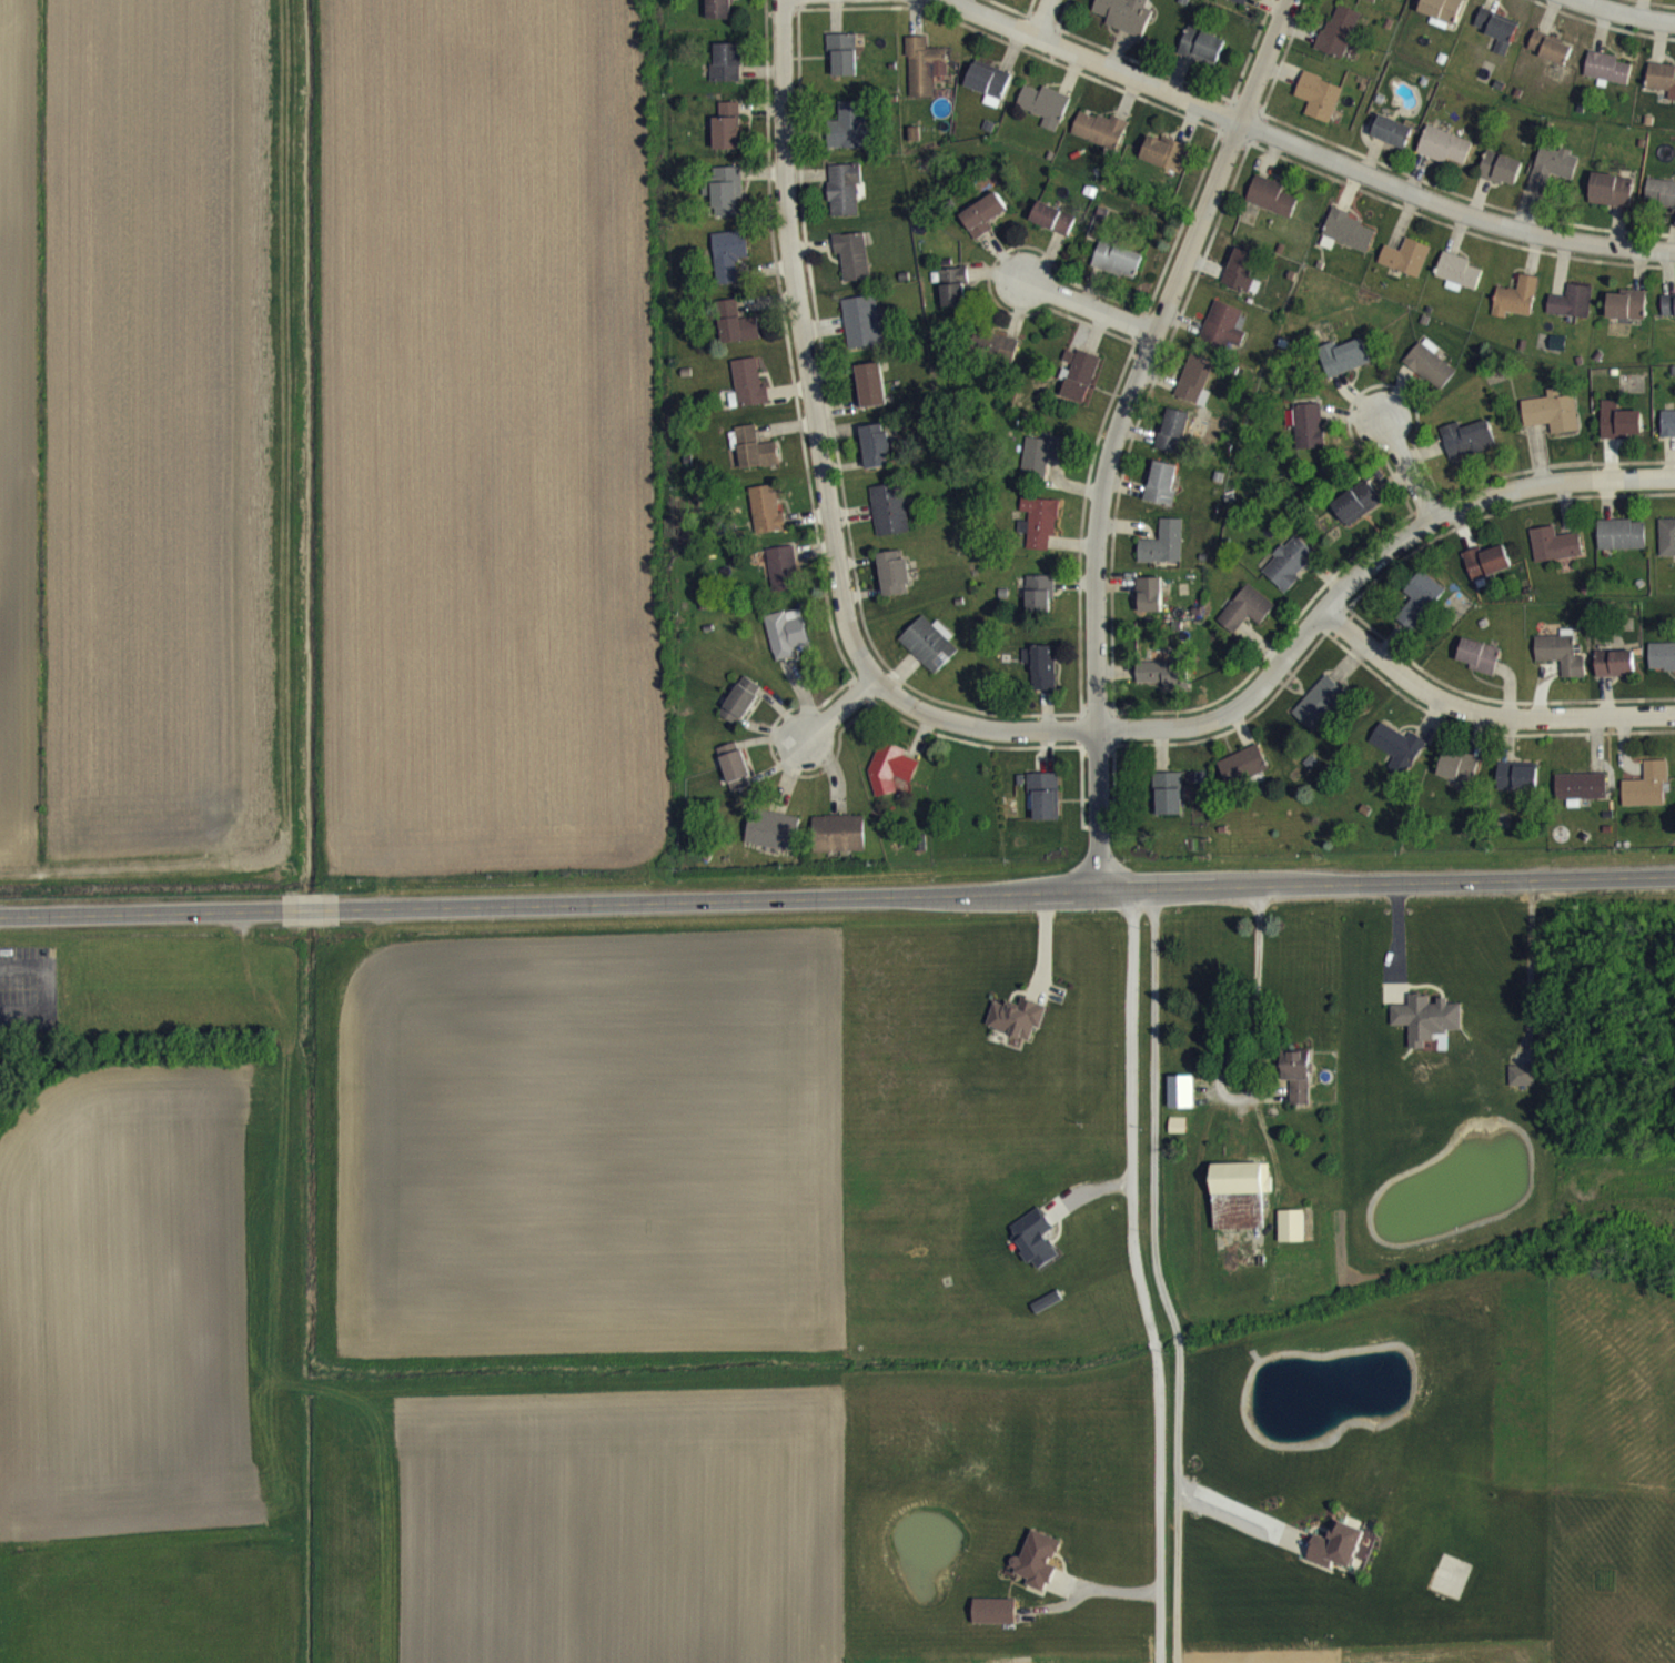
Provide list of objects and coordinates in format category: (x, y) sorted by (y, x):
building: (1233, 4)
building: (1371, 4)
road: (1625, 13)
building: (722, 14)
road: (1041, 18)
building: (1440, 19)
building: (1124, 23)
building: (1496, 37)
building: (1339, 42)
building: (1202, 57)
building: (1550, 59)
building: (844, 65)
building: (728, 74)
building: (925, 79)
building: (1606, 80)
building: (1662, 90)
building: (990, 93)
building: (1319, 108)
building: (1046, 117)
building: (728, 138)
building: (850, 138)
building: (1100, 141)
building: (1392, 143)
road: (1305, 147)
building: (1444, 158)
building: (1164, 164)
building: (1553, 179)
building: (1502, 180)
building: (845, 200)
building: (727, 202)
building: (1611, 202)
building: (1659, 204)
building: (1271, 208)
building: (985, 226)
building: (1053, 230)
building: (1350, 242)
building: (729, 266)
building: (854, 266)
building: (1406, 269)
building: (1117, 271)
building: (1241, 283)
building: (1457, 284)
building: (955, 299)
road: (1090, 306)
building: (1516, 310)
building: (1572, 313)
building: (1626, 316)
building: (1668, 318)
building: (864, 333)
building: (737, 334)
building: (1222, 337)
road: (803, 343)
building: (997, 359)
building: (1343, 369)
building: (1430, 375)
building: (1081, 387)
building: (1194, 392)
building: (749, 394)
building: (872, 396)
building: (1552, 423)
road: (1117, 429)
building: (1619, 433)
building: (1667, 435)
building: (1309, 437)
building: (1173, 442)
building: (1467, 450)
building: (877, 458)
building: (755, 461)
building: (1043, 466)
road: (1407, 470)
building: (1161, 494)
building: (1356, 514)
building: (767, 521)
building: (889, 521)
building: (1040, 533)
building: (1622, 546)
building: (1667, 550)
building: (1163, 555)
building: (1554, 556)
building: (1486, 573)
building: (1289, 574)
building: (783, 581)
building: (895, 585)
building: (1039, 606)
building: (1149, 606)
building: (1420, 611)
building: (1247, 619)
building: (788, 645)
road: (1284, 654)
building: (930, 655)
building: (1561, 666)
building: (1479, 667)
building: (1662, 668)
building: (1615, 675)
building: (1040, 678)
building: (1163, 685)
road: (837, 707)
building: (741, 712)
road: (1482, 712)
building: (1320, 715)
building: (1397, 760)
building: (1243, 777)
building: (735, 778)
building: (1459, 778)
building: (890, 779)
building: (1517, 787)
building: (1647, 797)
building: (1582, 798)
building: (1168, 805)
building: (1045, 807)
building: (773, 841)
building: (839, 845)
road: (1006, 890)
road: (310, 908)
road: (141, 911)
building: (1016, 1029)
building: (1427, 1030)
road: (1229, 1051)
building: (1298, 1087)
building: (1523, 1087)
building: (1181, 1103)
building: (1292, 1237)
building: (1035, 1250)
road: (1157, 1250)
road: (1137, 1274)
building: (1338, 1559)
building: (1038, 1572)
building: (995, 1623)

